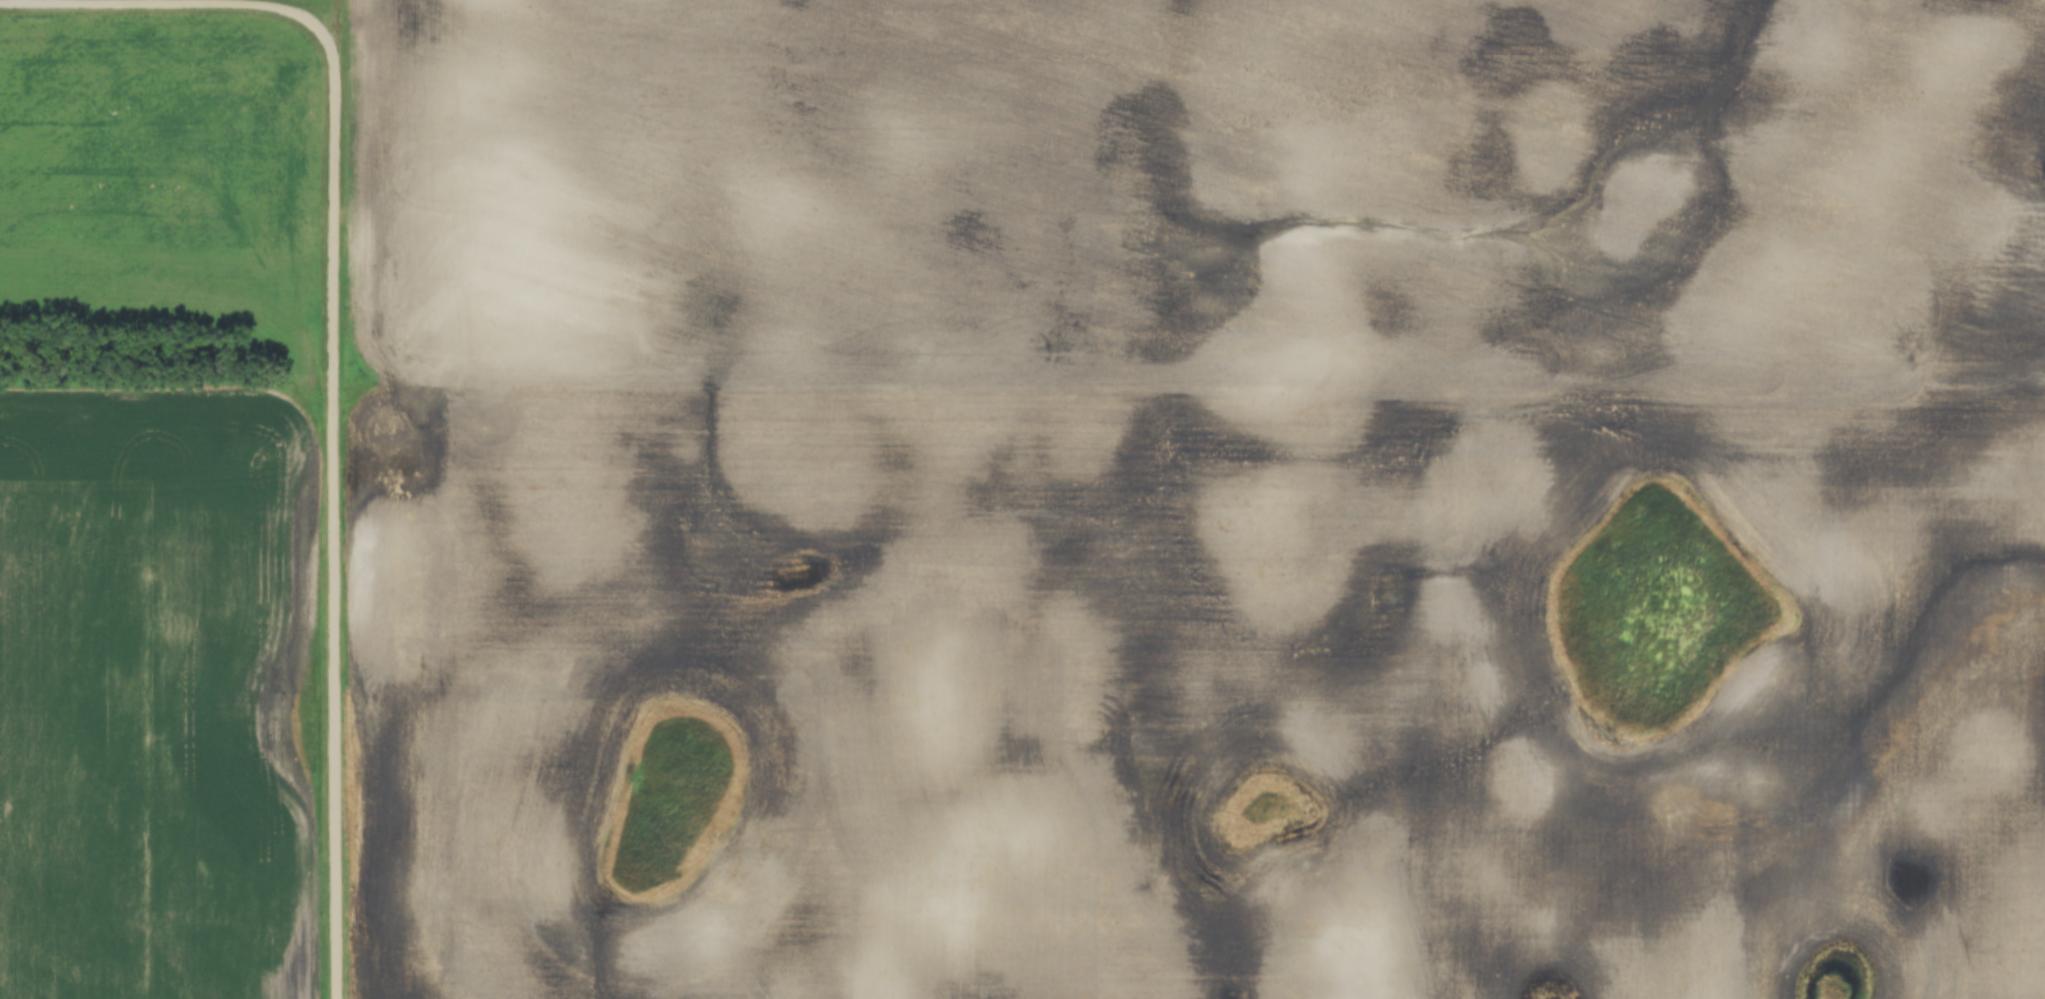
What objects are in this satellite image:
road: (179, 3)
road: (342, 25)
road: (337, 524)

